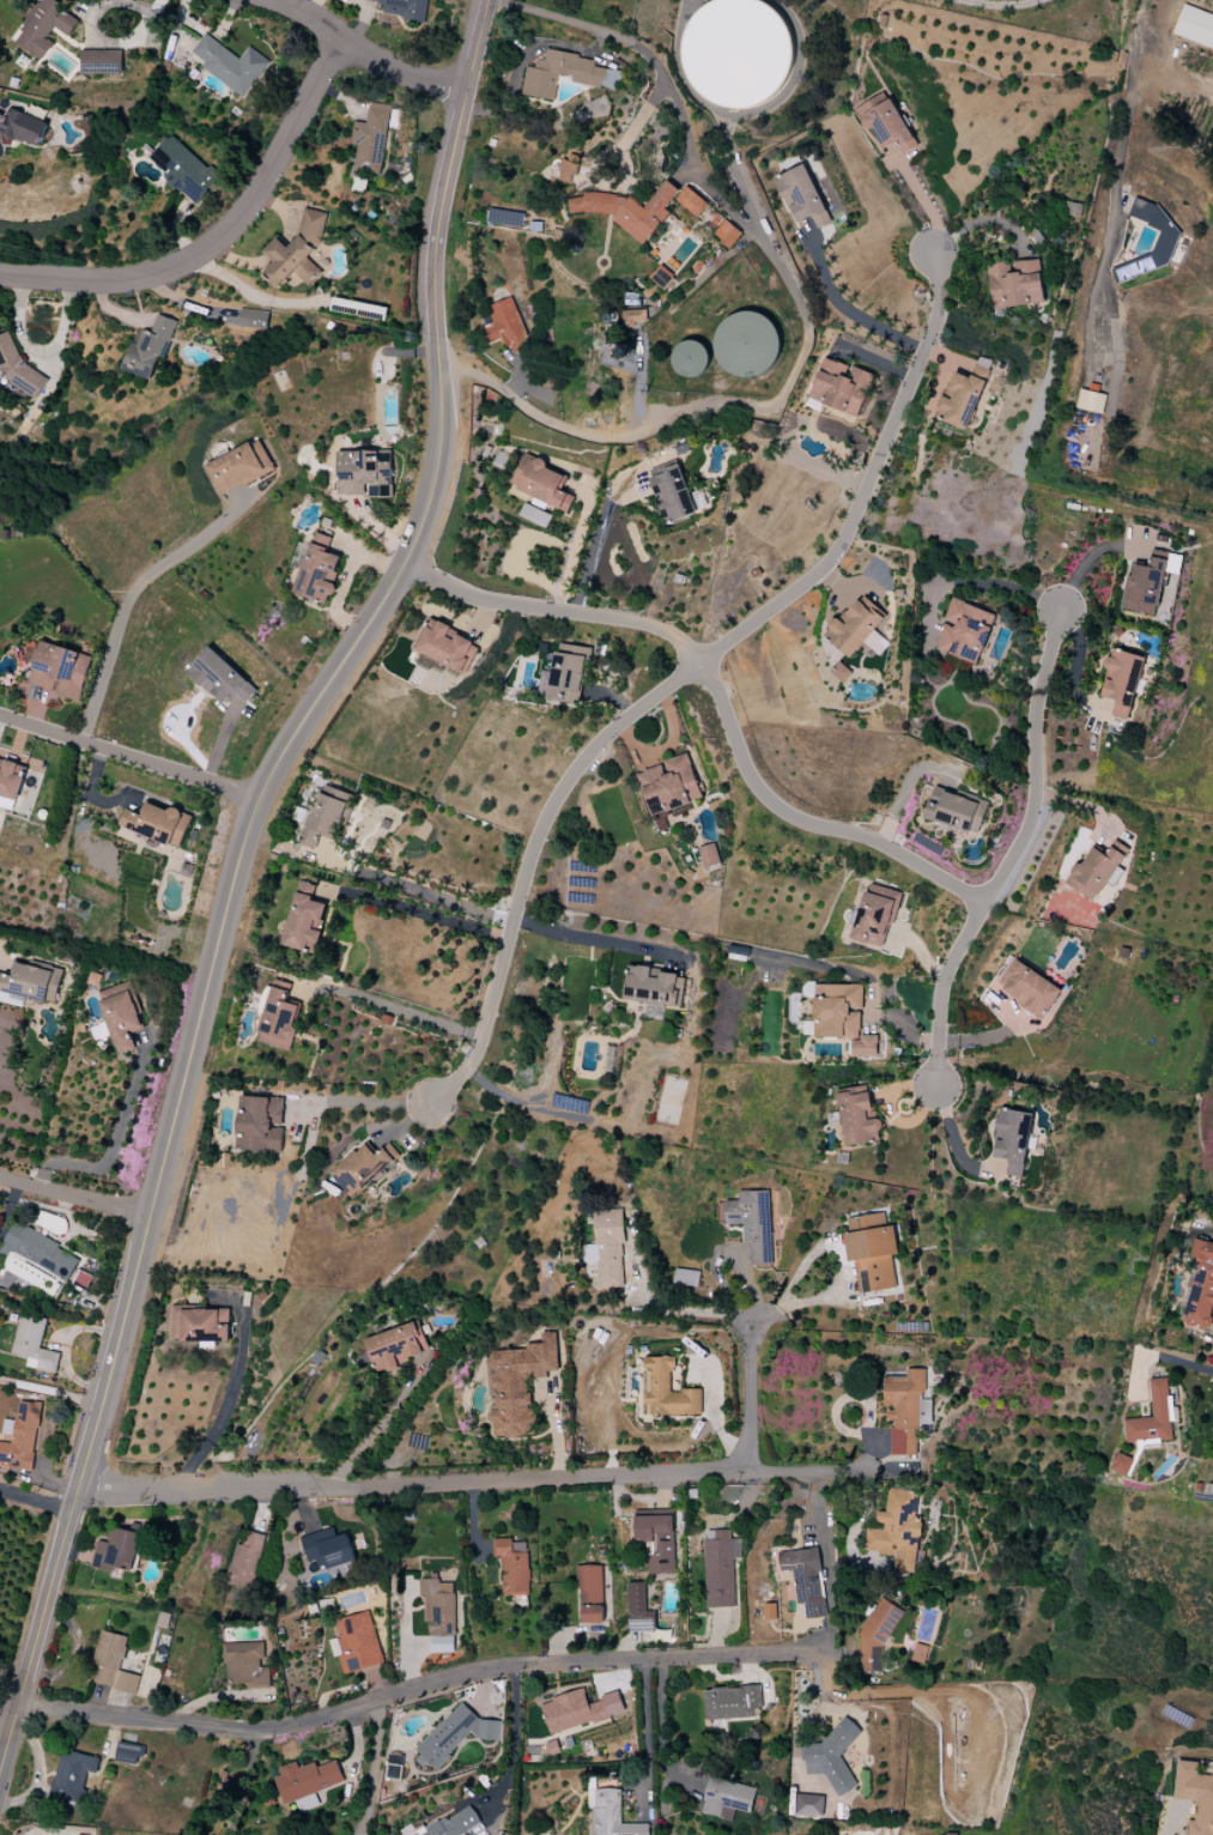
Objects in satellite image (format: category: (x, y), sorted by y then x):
road: (999, 5)
building: (404, 8)
road: (308, 16)
building: (44, 26)
building: (1194, 28)
building: (736, 53)
storage tank: (736, 53)
building: (102, 61)
building: (230, 65)
road: (399, 67)
building: (566, 74)
road: (1176, 77)
road: (736, 111)
road: (683, 114)
road: (727, 115)
building: (886, 123)
building: (22, 127)
building: (370, 139)
road: (1124, 149)
building: (182, 169)
road: (745, 184)
building: (801, 196)
road: (922, 198)
building: (691, 201)
building: (627, 210)
building: (505, 218)
building: (726, 234)
road: (222, 236)
building: (1165, 241)
building: (297, 253)
building: (1014, 284)
road: (849, 310)
building: (633, 317)
building: (253, 319)
building: (505, 326)
building: (746, 344)
building: (148, 349)
building: (690, 358)
building: (839, 387)
building: (963, 398)
building: (1090, 401)
road: (653, 425)
building: (239, 467)
building: (364, 473)
building: (542, 484)
building: (672, 493)
building: (535, 515)
road: (594, 538)
building: (319, 569)
road: (988, 585)
building: (1146, 586)
road: (131, 598)
building: (857, 628)
building: (964, 631)
building: (445, 647)
building: (60, 671)
building: (564, 674)
road: (685, 674)
building: (219, 678)
building: (1121, 680)
road: (721, 698)
road: (128, 757)
building: (11, 779)
building: (669, 785)
building: (956, 811)
building: (323, 817)
building: (156, 823)
building: (709, 855)
road: (1017, 855)
road: (236, 866)
building: (186, 870)
building: (1094, 871)
road: (416, 890)
building: (875, 915)
building: (304, 920)
road: (598, 940)
building: (29, 985)
building: (654, 987)
building: (1027, 988)
road: (398, 1007)
building: (119, 1016)
building: (842, 1017)
building: (278, 1021)
road: (369, 1102)
building: (857, 1118)
building: (260, 1125)
building: (1012, 1139)
road: (954, 1140)
road: (111, 1155)
building: (363, 1168)
road: (74, 1206)
building: (751, 1223)
building: (607, 1248)
building: (872, 1252)
building: (37, 1259)
building: (686, 1277)
building: (1200, 1286)
road: (679, 1313)
building: (199, 1325)
building: (34, 1344)
building: (396, 1346)
road: (1183, 1363)
building: (517, 1383)
road: (50, 1391)
building: (667, 1391)
road: (231, 1393)
road: (751, 1399)
building: (903, 1411)
building: (1153, 1416)
building: (20, 1436)
building: (1121, 1464)
road: (456, 1484)
road: (34, 1502)
building: (897, 1528)
building: (656, 1542)
building: (327, 1549)
building: (116, 1551)
building: (245, 1561)
building: (513, 1565)
building: (720, 1568)
building: (806, 1580)
building: (590, 1594)
building: (638, 1610)
building: (439, 1616)
building: (357, 1642)
building: (920, 1653)
building: (113, 1664)
building: (245, 1665)
road: (417, 1688)
building: (732, 1702)
building: (578, 1710)
road: (663, 1722)
road: (647, 1724)
road: (4, 1727)
building: (455, 1736)
road: (514, 1736)
building: (128, 1755)
building: (833, 1755)
road: (376, 1768)
building: (72, 1775)
building: (307, 1780)
building: (1195, 1795)
building: (727, 1798)
building: (809, 1805)
building: (609, 1813)
building: (457, 1824)

